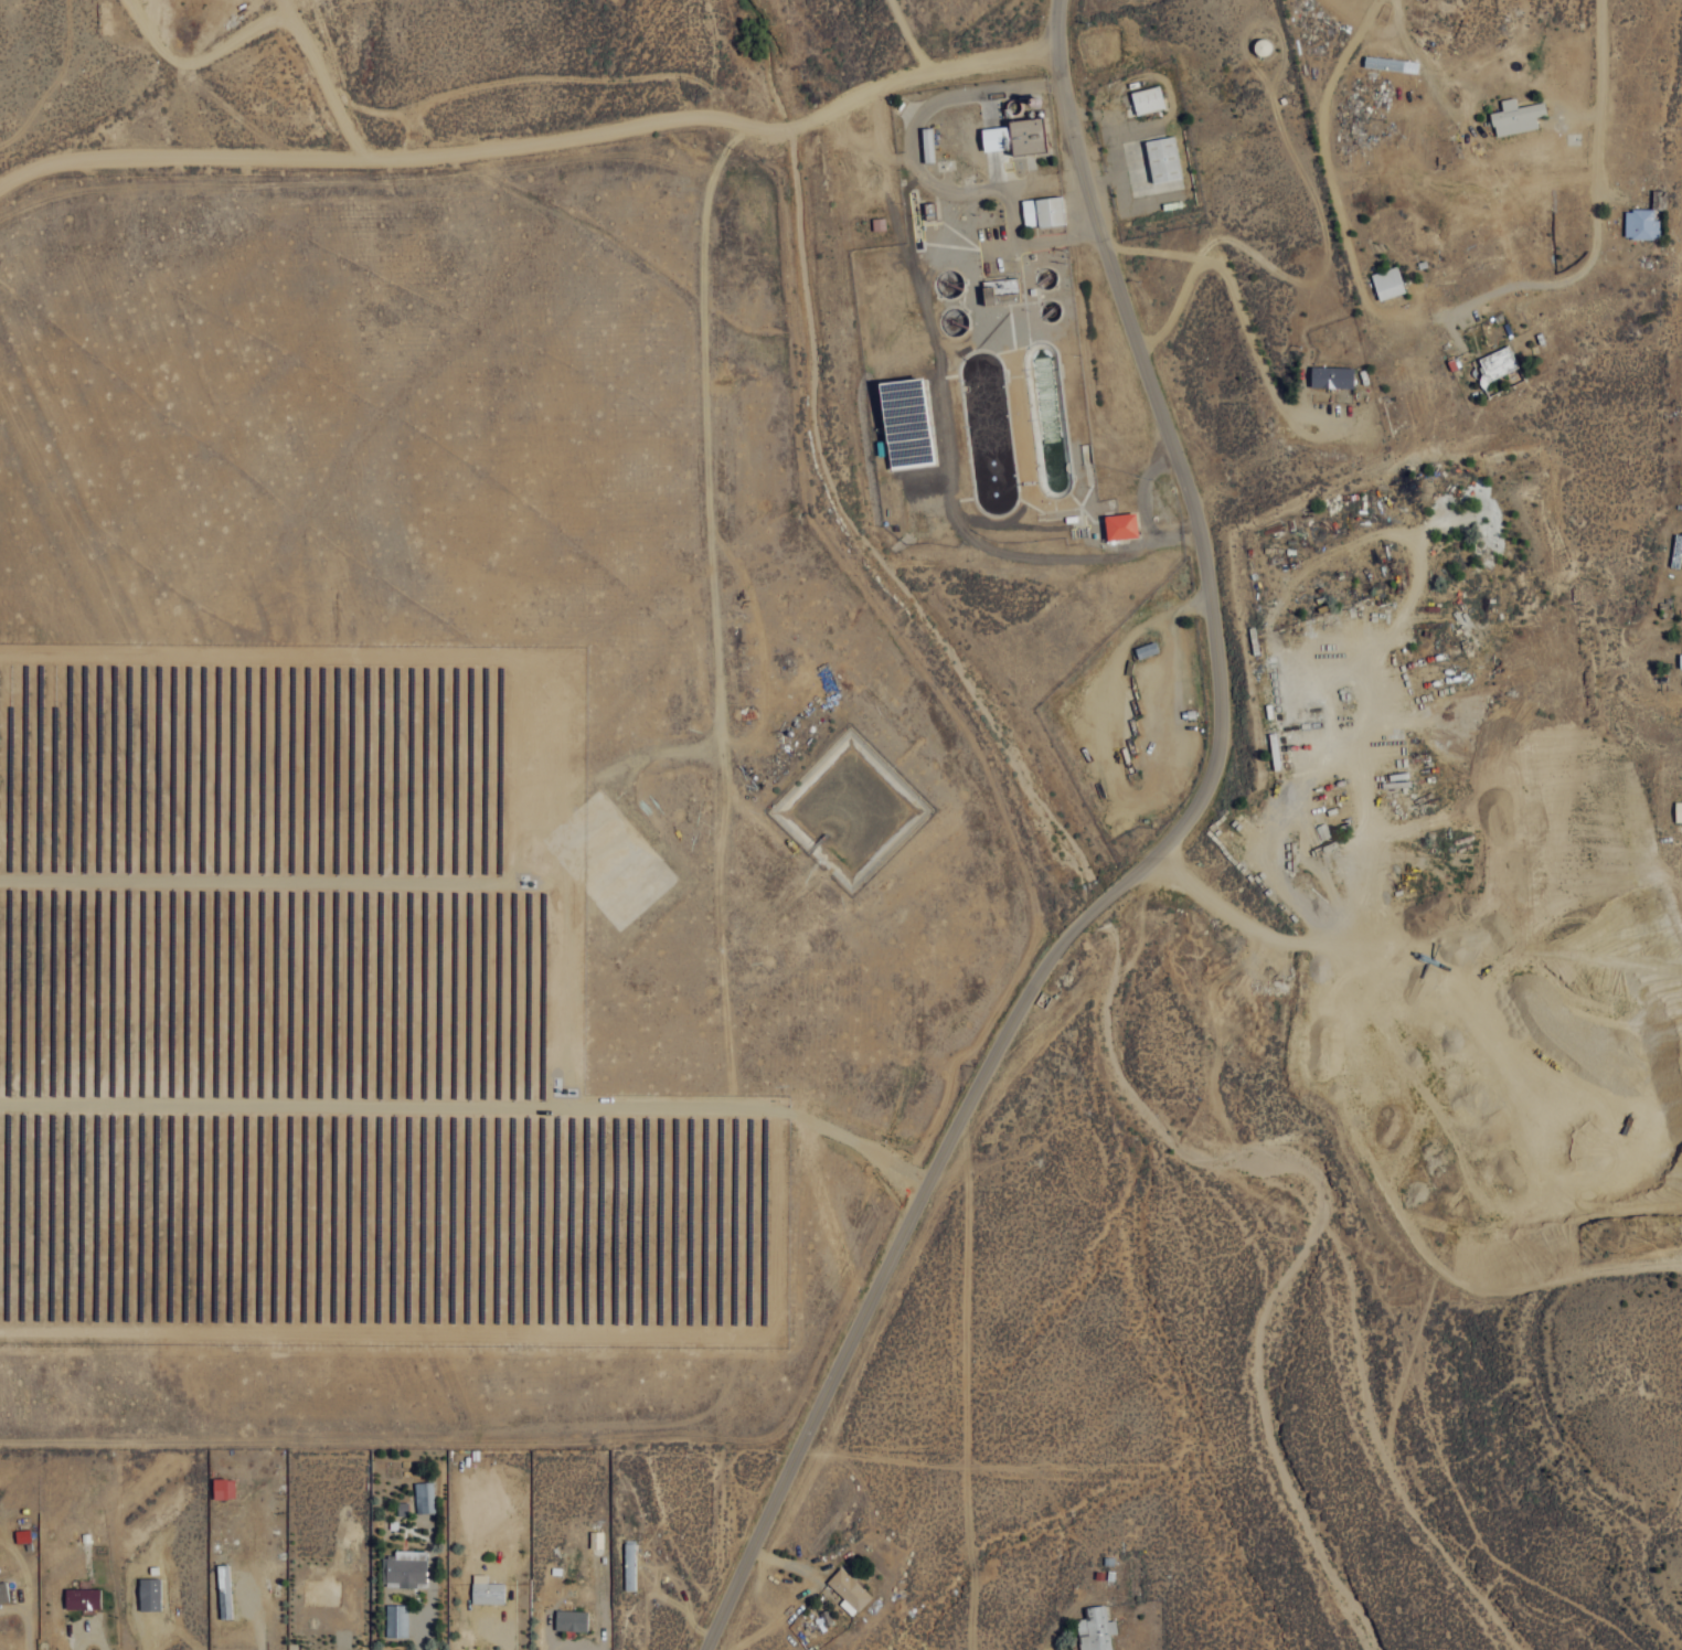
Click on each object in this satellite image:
road: (906, 34)
building: (1261, 45)
storage tank: (1261, 45)
building: (1030, 97)
storage tank: (1030, 97)
building: (1146, 98)
building: (1515, 116)
road: (1067, 118)
building: (1015, 135)
road: (532, 139)
building: (926, 143)
building: (1160, 158)
building: (927, 209)
building: (1040, 211)
building: (1640, 223)
building: (1387, 281)
building: (998, 290)
wastewater plant: (973, 318)
building: (1495, 363)
building: (1331, 375)
building: (904, 421)
building: (1119, 524)
building: (1681, 654)
building: (1678, 810)
road: (1057, 945)
solar farm: (334, 1014)
building: (222, 1488)
building: (424, 1497)
building: (401, 1509)
building: (595, 1539)
building: (628, 1566)
building: (404, 1568)
building: (486, 1590)
building: (848, 1590)
building: (2, 1592)
building: (223, 1592)
building: (148, 1594)
building: (81, 1598)
building: (395, 1620)
building: (569, 1620)
building: (1095, 1629)

